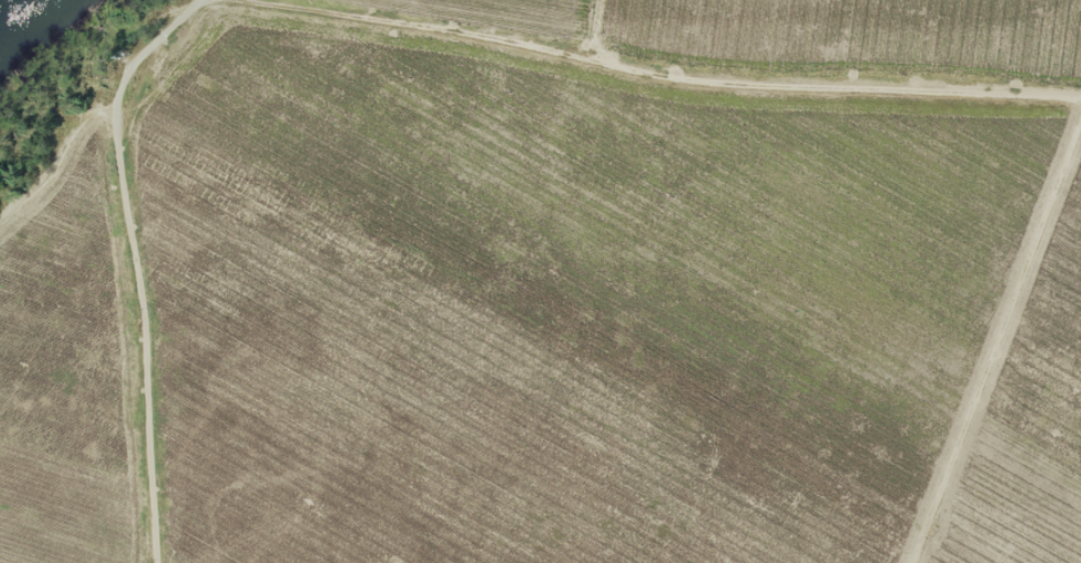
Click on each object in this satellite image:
river: (12, 12)

